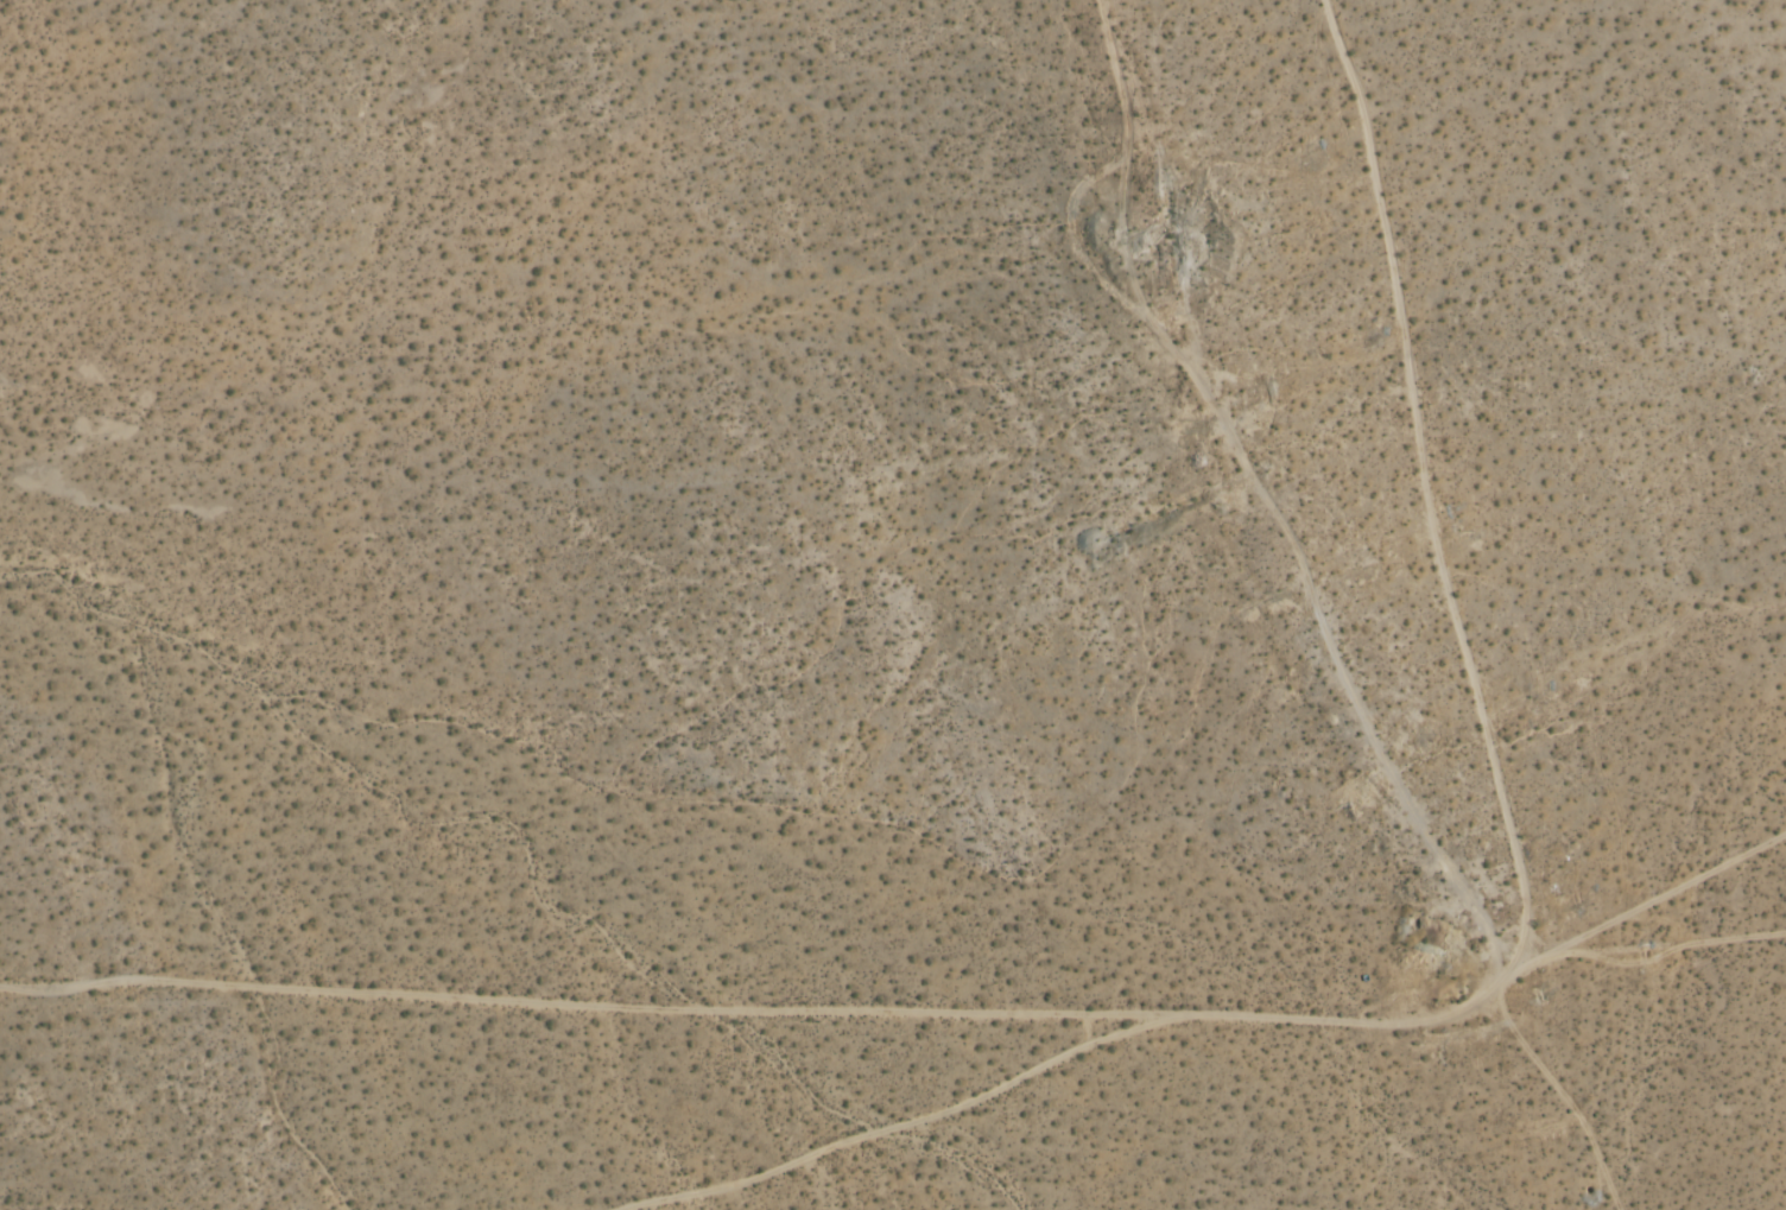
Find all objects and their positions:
road: (579, 999)

